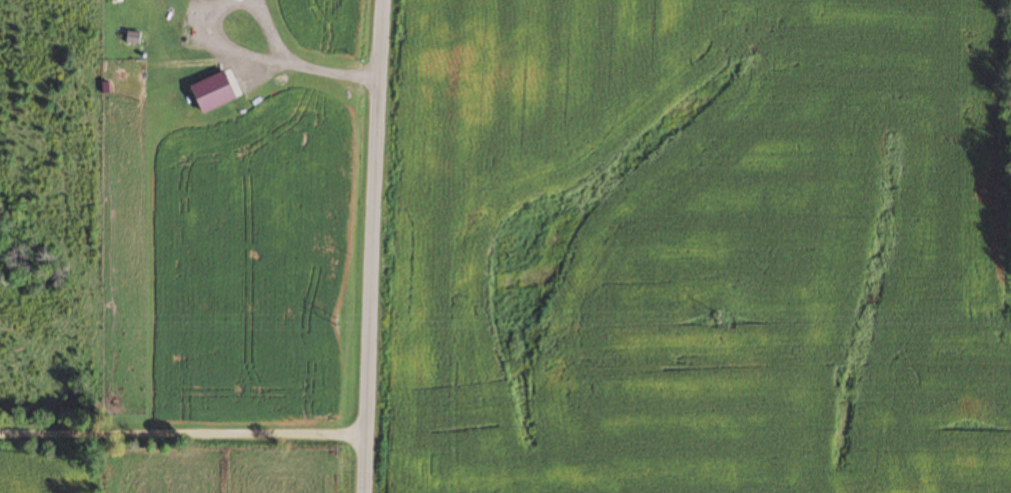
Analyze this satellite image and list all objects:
road: (377, 246)
road: (185, 441)

